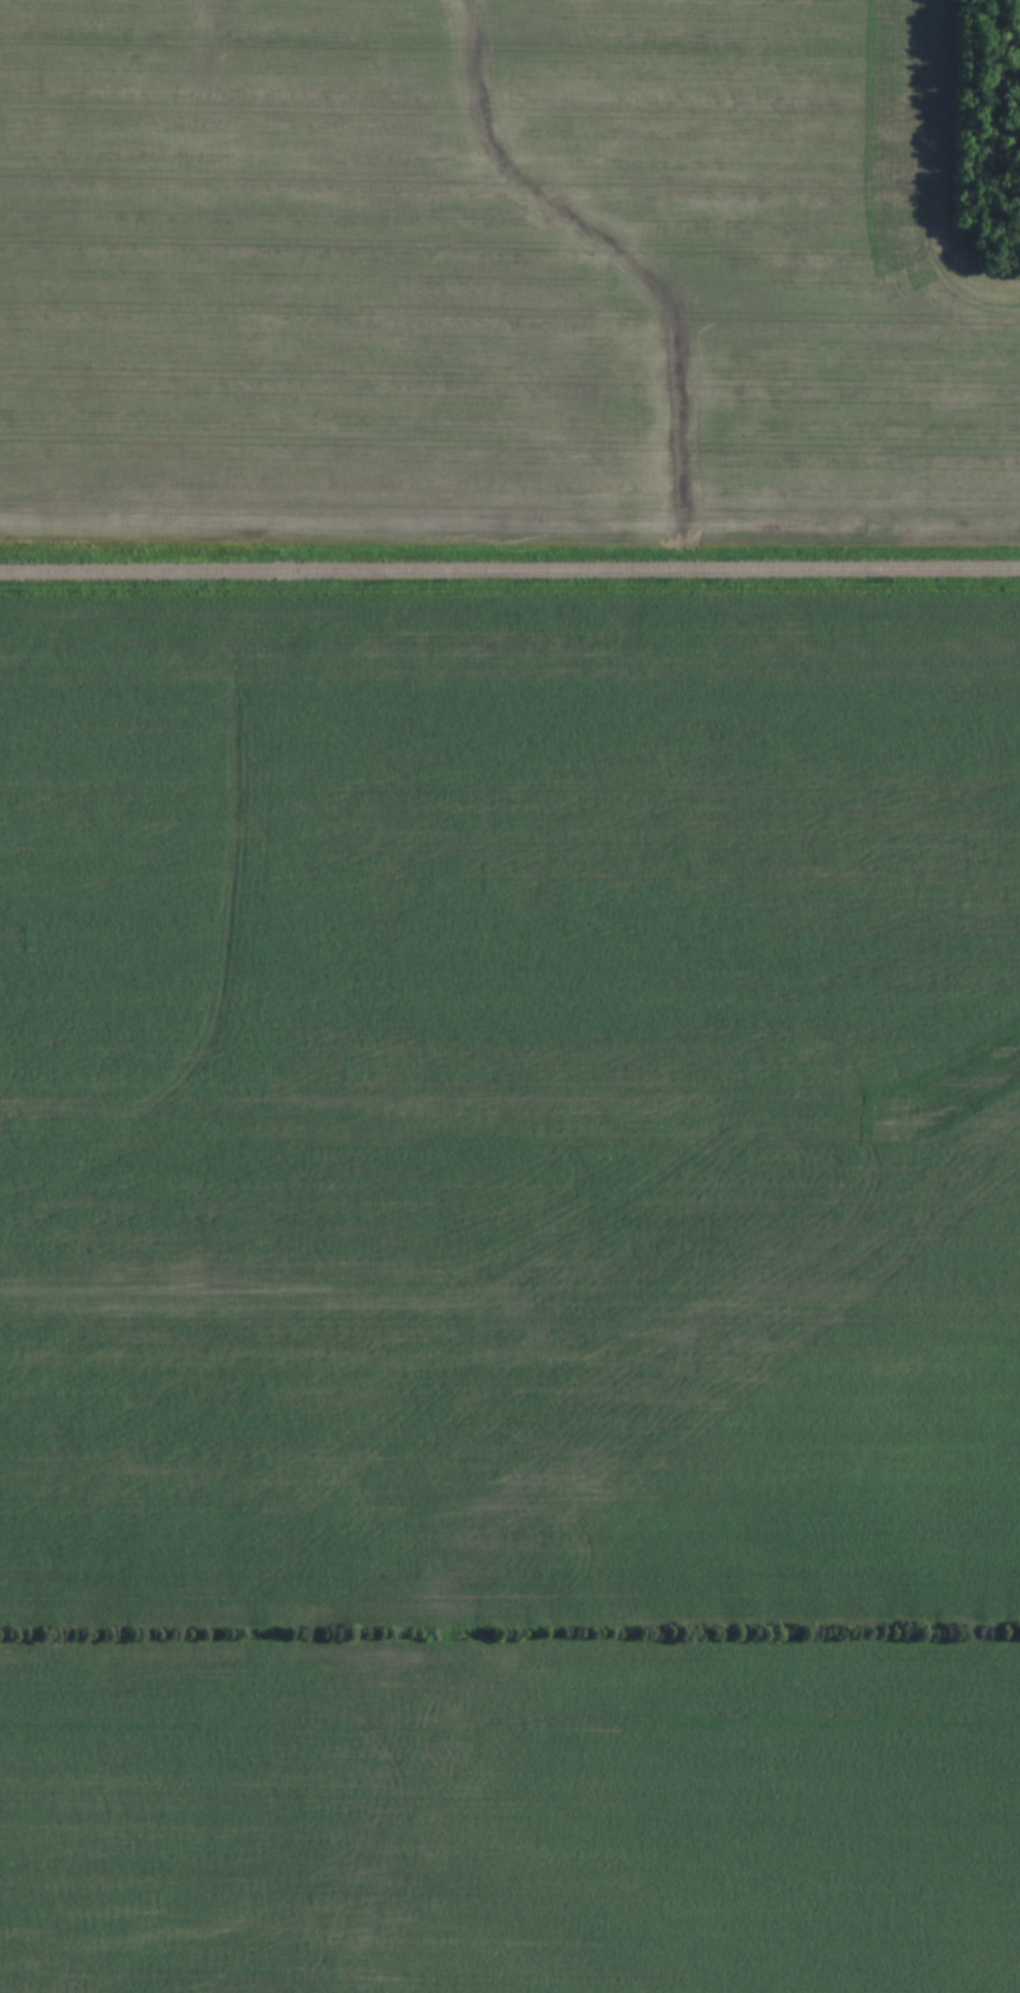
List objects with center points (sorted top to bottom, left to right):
railway: (510, 570)

